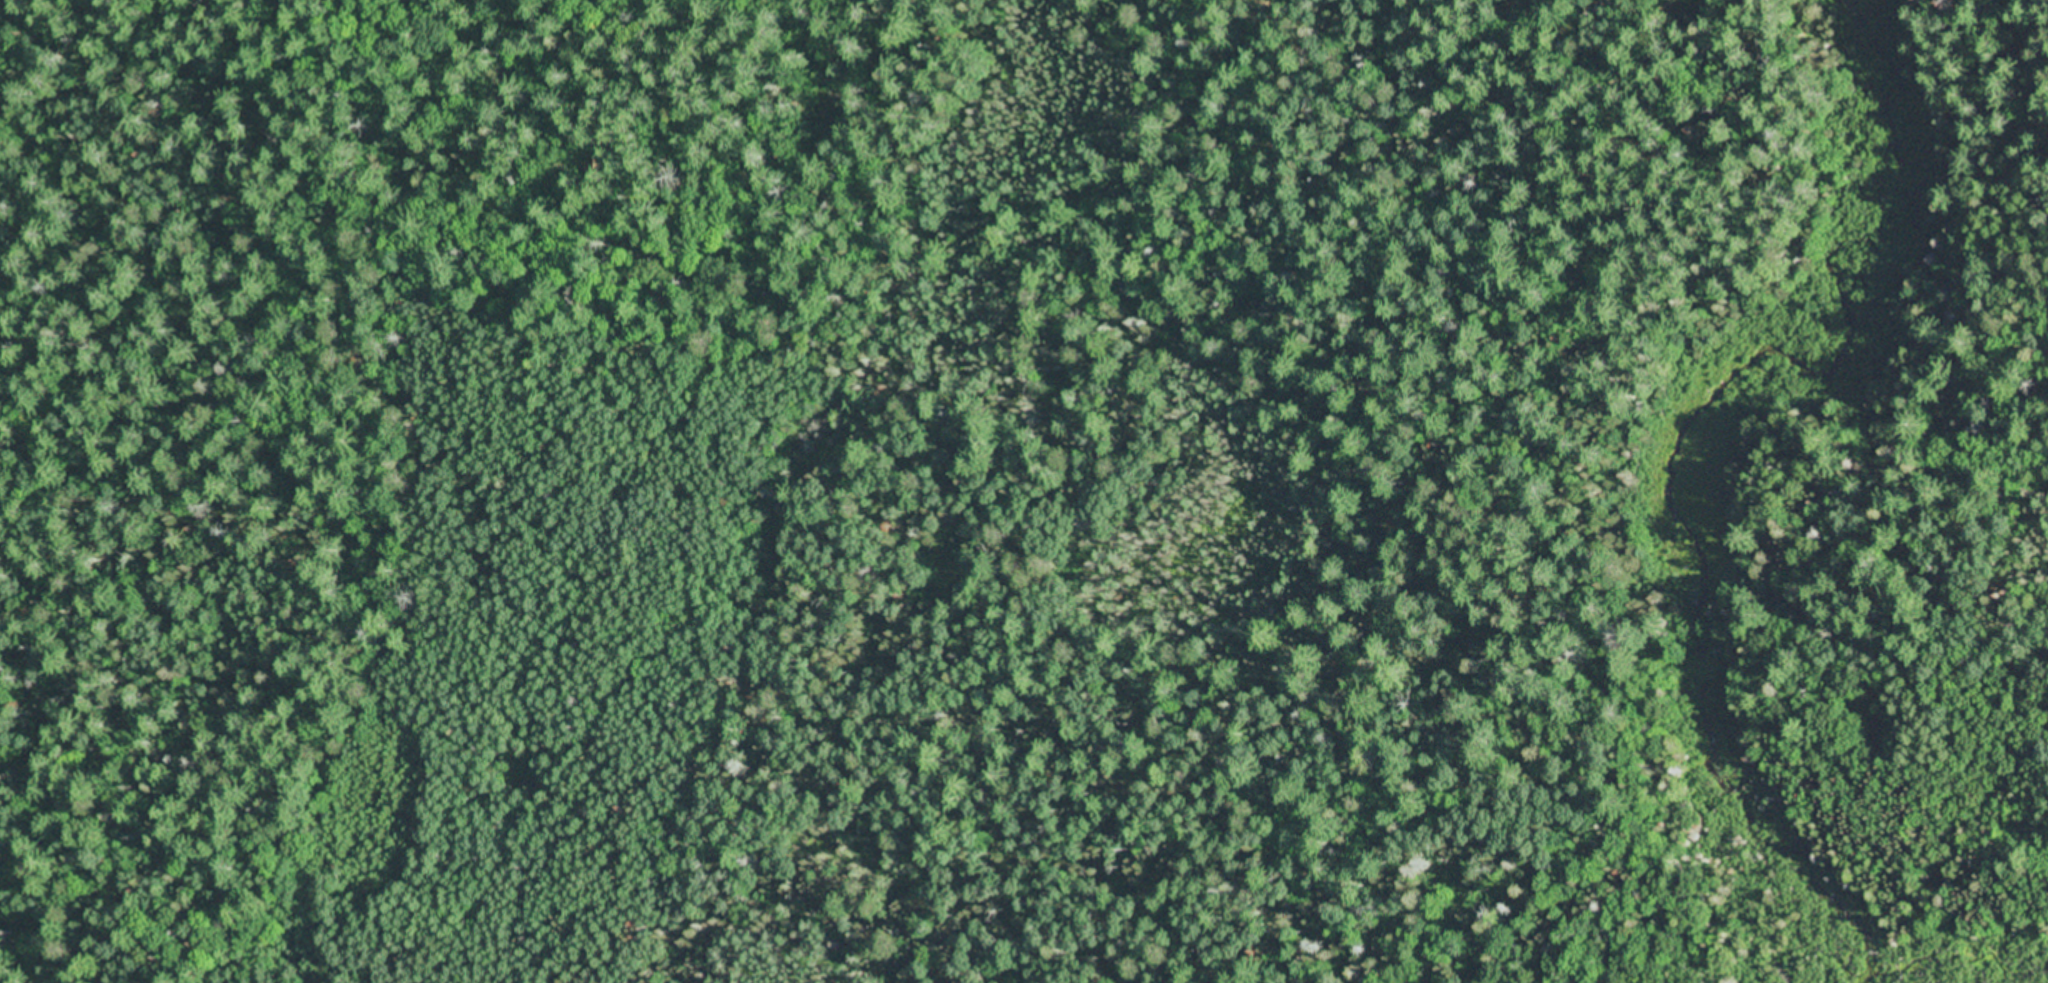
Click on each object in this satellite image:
road: (656, 108)
road: (255, 376)
road: (1830, 672)
road: (1203, 886)

